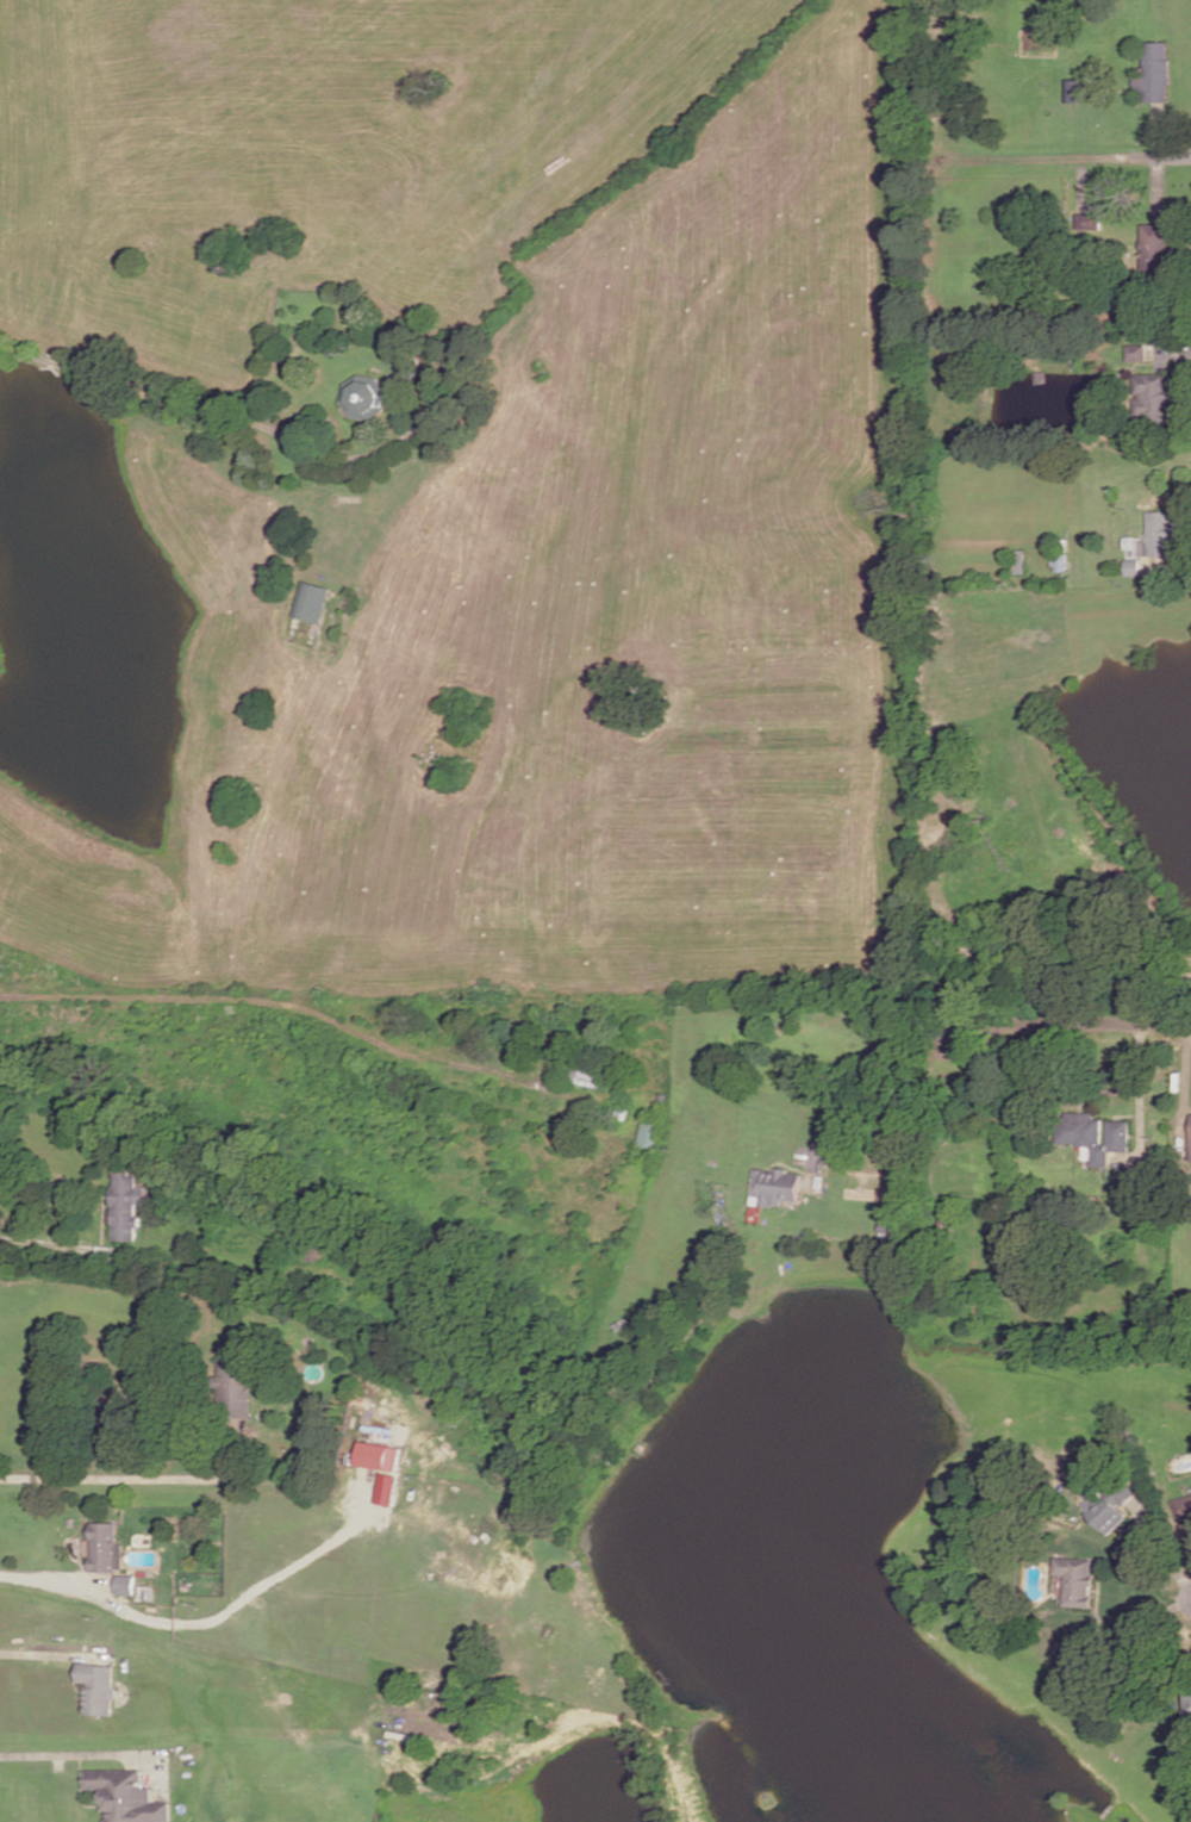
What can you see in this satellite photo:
building: (1156, 69)
building: (1077, 87)
road: (1161, 128)
road: (1161, 154)
road: (1041, 155)
road: (1084, 176)
road: (1160, 184)
building: (1089, 220)
building: (1158, 240)
road: (1178, 347)
building: (1139, 349)
building: (367, 394)
building: (1155, 396)
building: (1156, 541)
building: (1064, 552)
building: (1019, 559)
building: (311, 601)
road: (272, 1001)
road: (1072, 1021)
road: (866, 1047)
road: (1185, 1080)
road: (1141, 1102)
building: (1093, 1132)
building: (650, 1133)
building: (775, 1183)
building: (125, 1204)
road: (38, 1242)
building: (236, 1392)
building: (382, 1465)
road: (118, 1472)
building: (1109, 1501)
building: (1183, 1506)
building: (104, 1547)
road: (1160, 1547)
building: (1077, 1577)
building: (124, 1584)
road: (82, 1590)
road: (1152, 1616)
road: (39, 1653)
building: (96, 1686)
road: (61, 1753)
building: (124, 1796)

